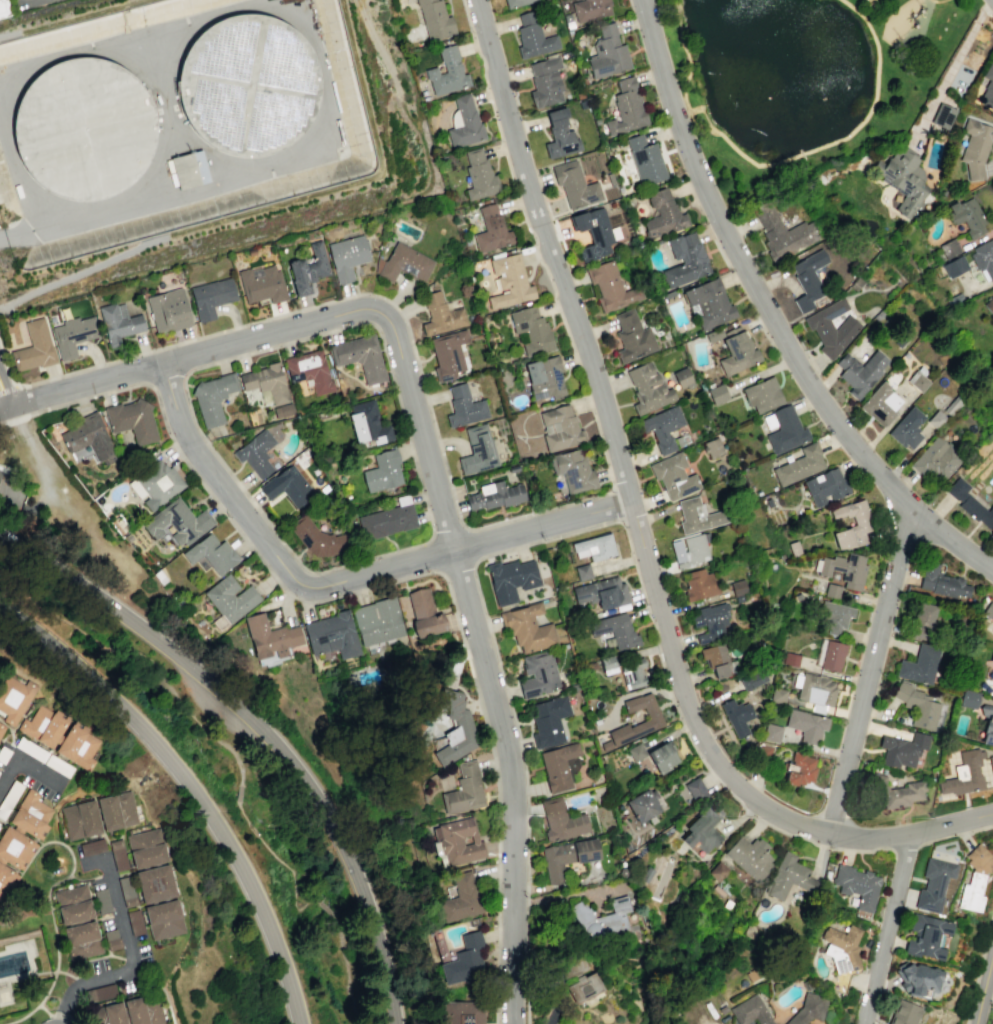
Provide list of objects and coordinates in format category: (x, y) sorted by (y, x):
road: (936, 0)
building: (515, 3)
road: (865, 7)
building: (3, 8)
building: (590, 9)
building: (434, 19)
road: (8, 34)
building: (533, 37)
road: (316, 51)
building: (607, 52)
road: (952, 67)
building: (447, 72)
park: (803, 78)
building: (545, 82)
building: (249, 85)
storage tank: (249, 85)
building: (987, 85)
road: (874, 90)
building: (626, 109)
road: (699, 109)
building: (942, 115)
building: (463, 123)
building: (83, 129)
storage tank: (83, 129)
building: (559, 135)
building: (975, 146)
road: (801, 154)
building: (644, 160)
building: (190, 170)
building: (479, 175)
building: (904, 180)
road: (21, 182)
building: (574, 184)
building: (663, 215)
building: (966, 216)
building: (491, 230)
road: (36, 231)
building: (782, 231)
building: (593, 232)
building: (948, 248)
building: (347, 256)
building: (983, 258)
building: (684, 259)
building: (403, 264)
building: (954, 266)
building: (308, 268)
road: (80, 271)
building: (806, 281)
building: (509, 282)
building: (261, 283)
building: (610, 287)
building: (211, 297)
building: (708, 302)
building: (989, 305)
building: (121, 310)
building: (168, 310)
building: (440, 314)
road: (770, 317)
building: (117, 323)
building: (831, 328)
building: (532, 330)
building: (72, 334)
building: (714, 335)
building: (632, 336)
building: (34, 347)
building: (737, 352)
building: (448, 354)
road: (197, 355)
building: (360, 356)
building: (308, 370)
building: (859, 372)
building: (544, 377)
building: (682, 378)
building: (917, 378)
building: (266, 382)
road: (168, 384)
road: (6, 388)
road: (7, 388)
building: (647, 389)
building: (717, 393)
building: (762, 395)
building: (212, 397)
road: (24, 400)
road: (4, 402)
building: (880, 404)
building: (463, 406)
road: (4, 408)
building: (282, 409)
road: (16, 418)
building: (132, 420)
road: (1, 423)
building: (367, 424)
building: (661, 427)
building: (907, 428)
building: (559, 429)
building: (785, 430)
building: (88, 436)
building: (712, 447)
building: (477, 450)
building: (255, 453)
building: (935, 459)
building: (799, 464)
building: (4, 469)
building: (573, 469)
building: (382, 471)
road: (42, 475)
building: (673, 476)
building: (157, 483)
building: (287, 486)
building: (825, 486)
building: (957, 488)
building: (10, 489)
building: (495, 495)
road: (616, 506)
building: (978, 512)
building: (697, 516)
building: (386, 521)
building: (178, 522)
building: (862, 522)
road: (429, 523)
road: (465, 526)
road: (637, 527)
road: (447, 535)
road: (556, 536)
building: (318, 538)
road: (472, 544)
building: (594, 547)
building: (794, 548)
building: (689, 550)
building: (211, 553)
road: (431, 556)
road: (13, 564)
road: (457, 566)
building: (842, 569)
building: (582, 571)
road: (403, 579)
building: (511, 579)
road: (19, 580)
building: (941, 582)
road: (339, 584)
building: (699, 584)
building: (738, 587)
building: (832, 590)
building: (602, 594)
building: (230, 598)
building: (988, 611)
building: (424, 613)
building: (836, 616)
road: (60, 618)
building: (377, 621)
building: (922, 621)
building: (710, 622)
building: (528, 628)
building: (613, 630)
building: (332, 635)
building: (270, 640)
road: (117, 649)
building: (991, 656)
building: (832, 657)
building: (790, 659)
building: (718, 660)
building: (607, 664)
building: (919, 664)
road: (485, 666)
building: (632, 672)
building: (538, 674)
road: (867, 675)
building: (753, 679)
building: (992, 681)
building: (813, 688)
building: (778, 695)
building: (14, 698)
building: (969, 699)
building: (918, 706)
road: (188, 714)
building: (737, 716)
building: (652, 720)
building: (547, 721)
building: (987, 724)
building: (806, 725)
building: (43, 726)
building: (2, 728)
road: (268, 728)
building: (454, 728)
road: (9, 730)
building: (771, 733)
road: (4, 735)
building: (78, 746)
building: (31, 749)
building: (902, 749)
building: (763, 751)
building: (635, 752)
building: (3, 754)
building: (662, 756)
building: (991, 763)
road: (24, 764)
building: (57, 765)
building: (558, 766)
building: (798, 769)
building: (985, 769)
building: (964, 775)
road: (193, 783)
building: (695, 789)
building: (463, 790)
road: (239, 794)
building: (902, 794)
building: (9, 797)
building: (642, 805)
building: (116, 811)
building: (30, 814)
building: (80, 819)
building: (561, 820)
building: (702, 829)
road: (954, 835)
building: (143, 838)
building: (459, 840)
building: (114, 844)
building: (13, 847)
building: (93, 847)
road: (904, 849)
building: (749, 856)
building: (148, 857)
building: (566, 857)
building: (119, 859)
road: (282, 861)
building: (717, 871)
building: (788, 877)
building: (974, 877)
building: (5, 878)
road: (90, 878)
building: (933, 884)
building: (154, 885)
building: (856, 885)
building: (127, 891)
building: (461, 898)
building: (102, 901)
building: (73, 904)
road: (324, 906)
road: (51, 915)
building: (163, 919)
building: (603, 921)
building: (136, 923)
road: (887, 929)
building: (926, 936)
building: (112, 940)
building: (82, 941)
building: (842, 948)
road: (130, 954)
building: (465, 960)
road: (346, 966)
road: (78, 967)
road: (979, 968)
road: (133, 969)
building: (914, 978)
road: (984, 984)
building: (585, 988)
building: (103, 993)
road: (164, 995)
road: (44, 1009)
building: (807, 1009)
building: (143, 1011)
building: (749, 1011)
building: (463, 1012)
building: (904, 1013)
road: (58, 1015)
building: (108, 1015)
road: (72, 1019)
road: (52, 1023)

